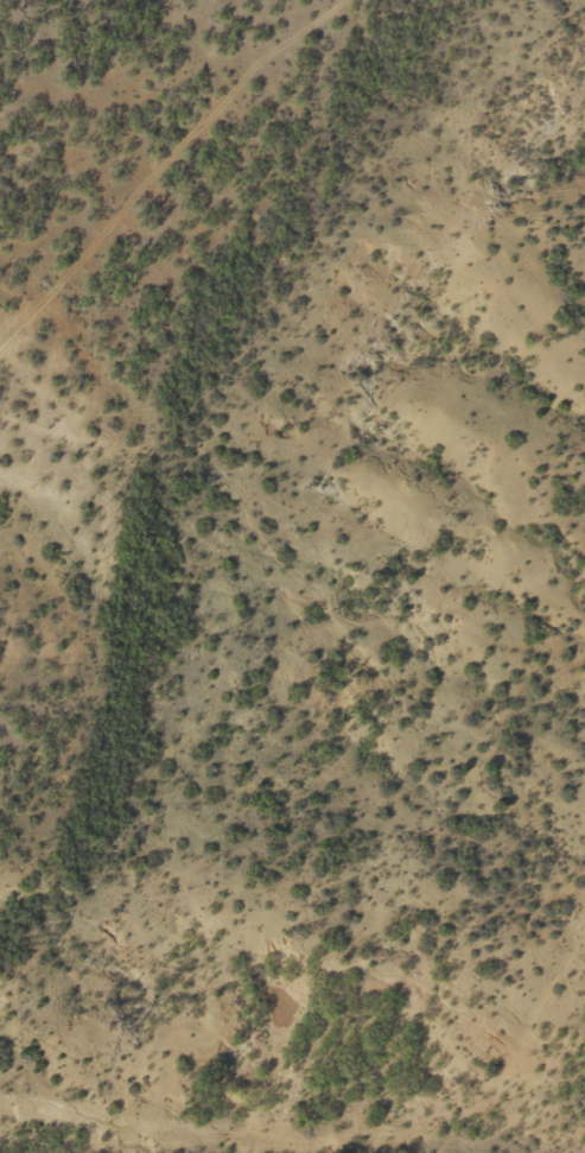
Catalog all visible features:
road: (195, 189)

